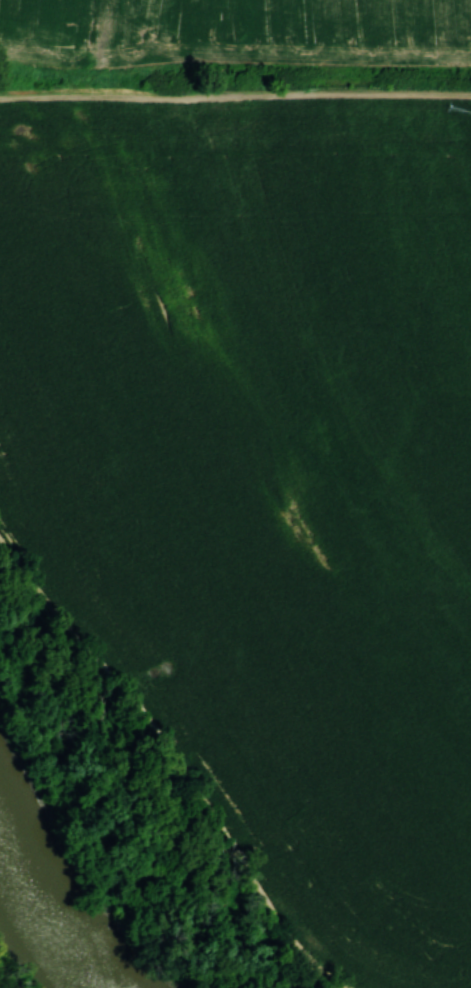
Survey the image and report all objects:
river: (52, 905)

